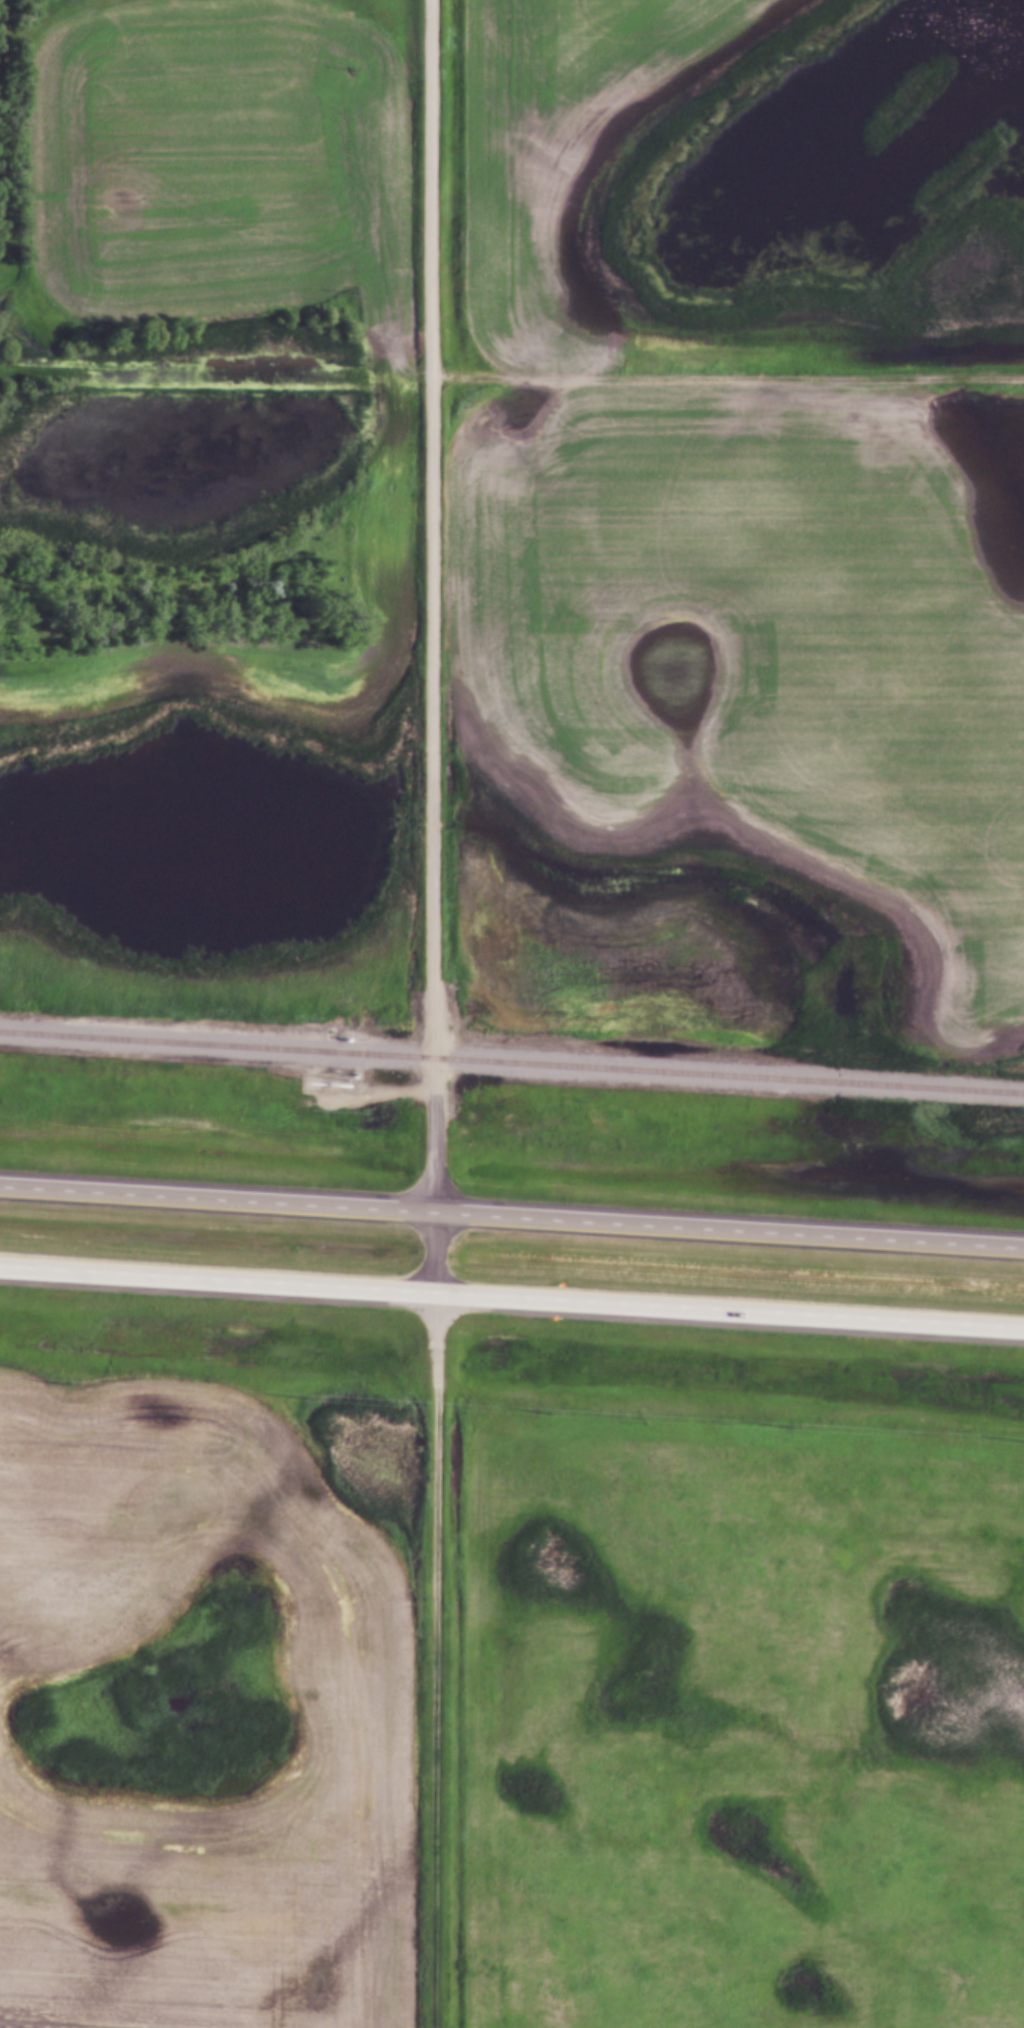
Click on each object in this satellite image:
road: (726, 376)
road: (214, 380)
road: (428, 545)
railway: (512, 1063)
road: (377, 1091)
road: (432, 1191)
road: (512, 1215)
road: (512, 1296)
road: (433, 1659)

